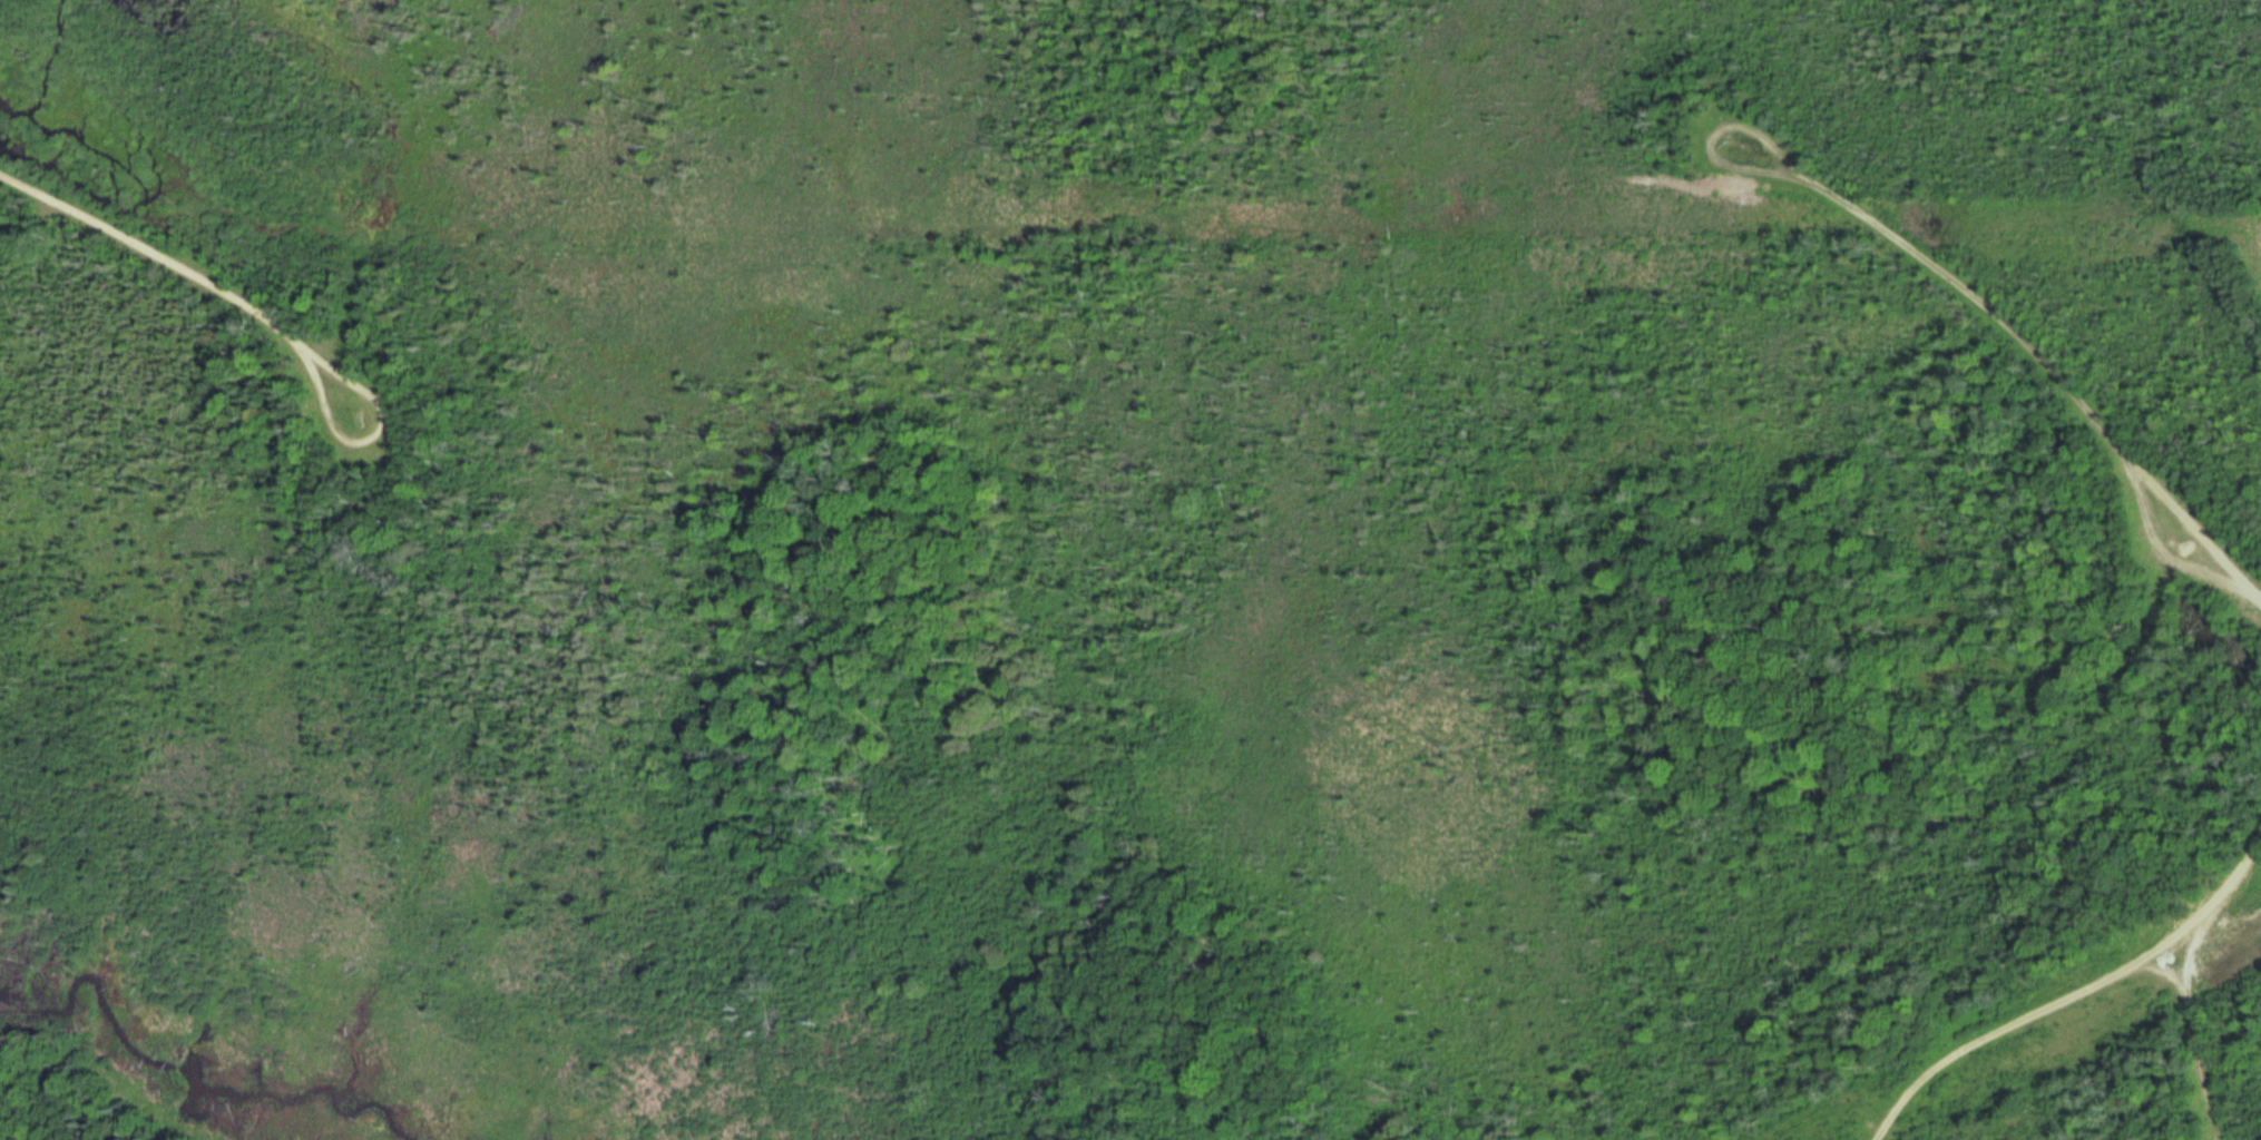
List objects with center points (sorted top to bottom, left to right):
road: (1712, 139)
road: (156, 253)
road: (2047, 372)
road: (369, 433)
road: (2163, 969)
road: (2073, 993)
road: (2194, 1032)

